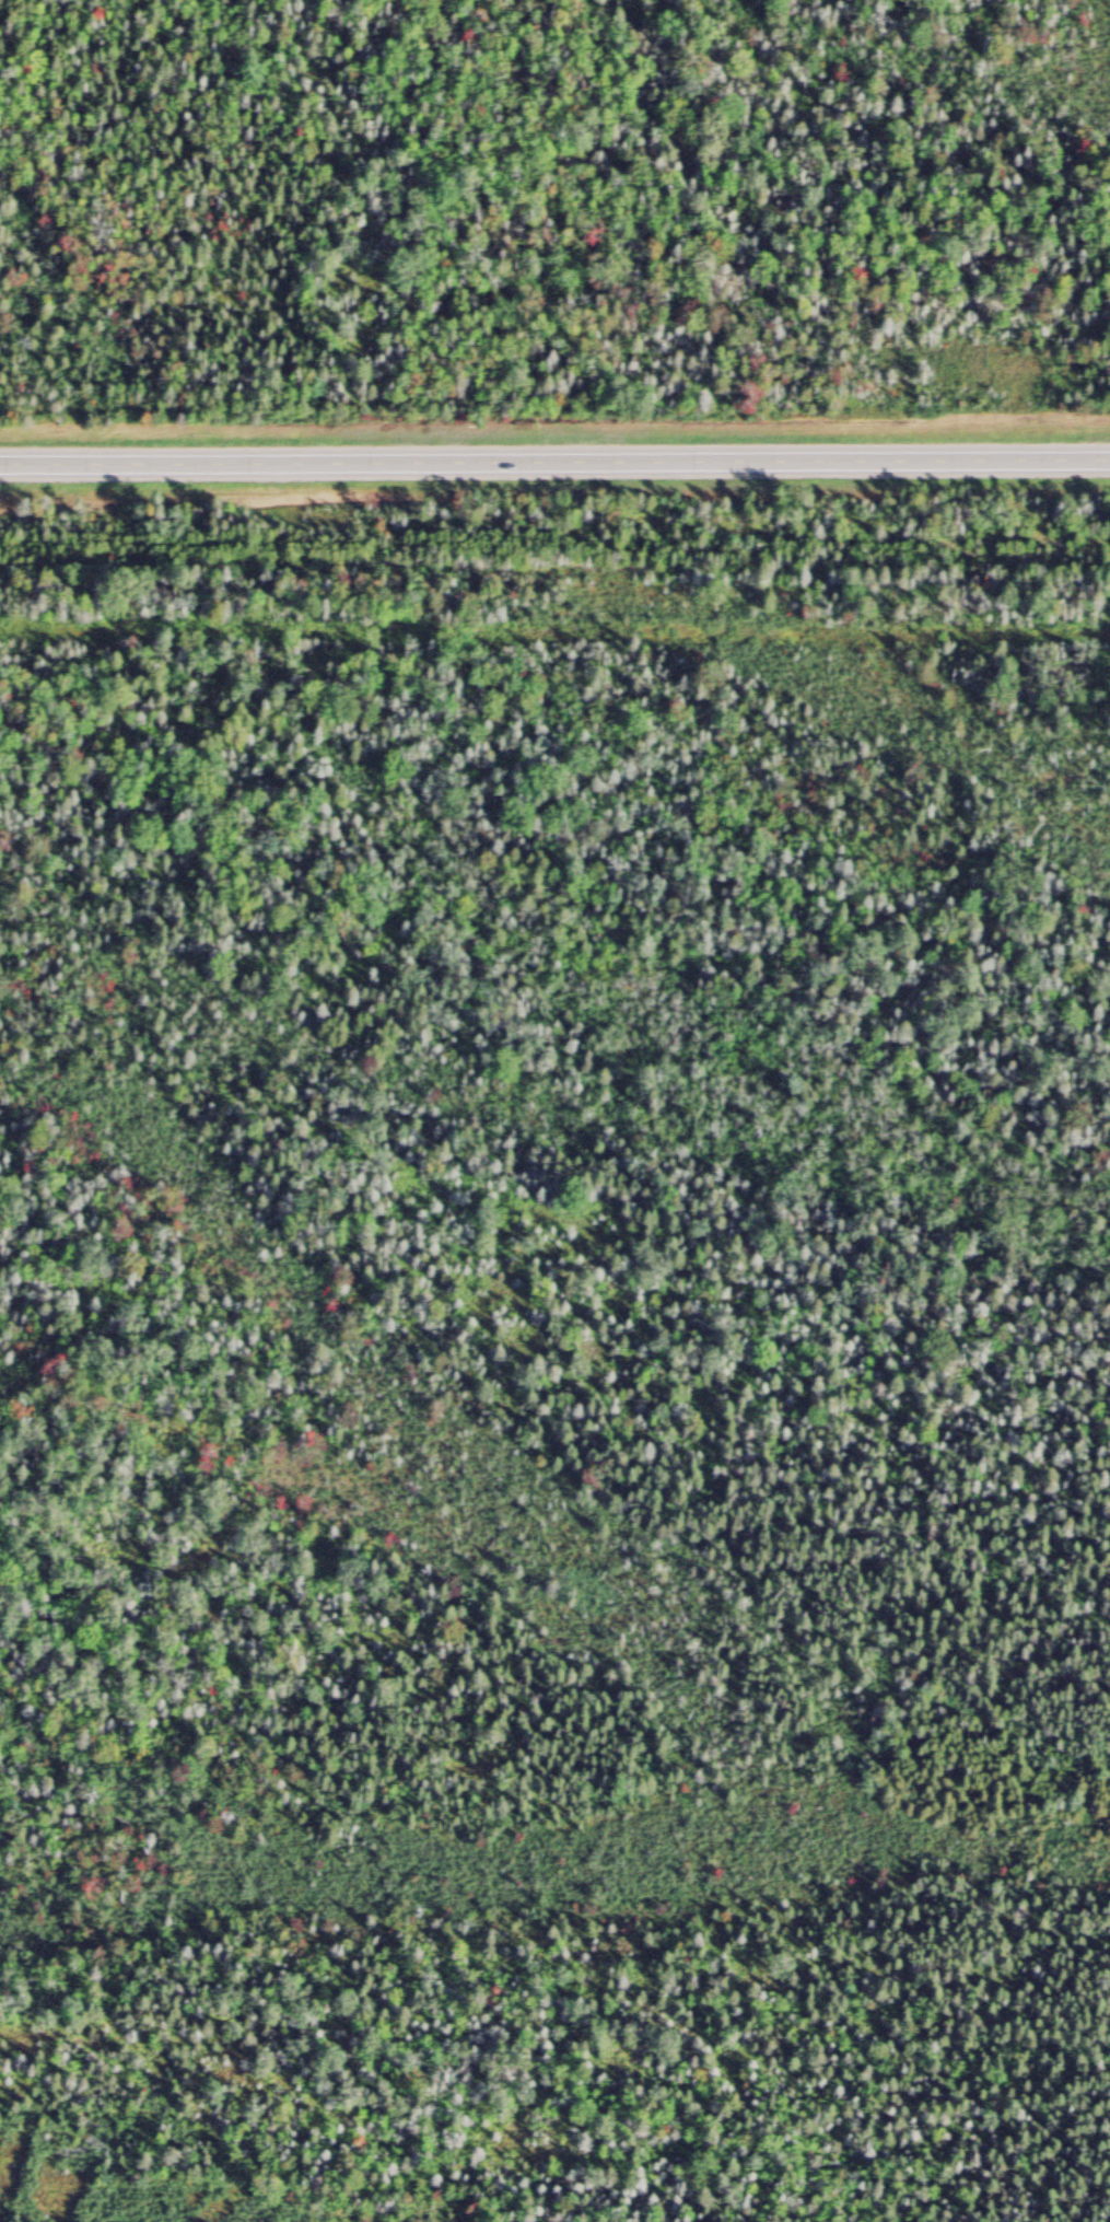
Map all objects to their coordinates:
road: (554, 457)

